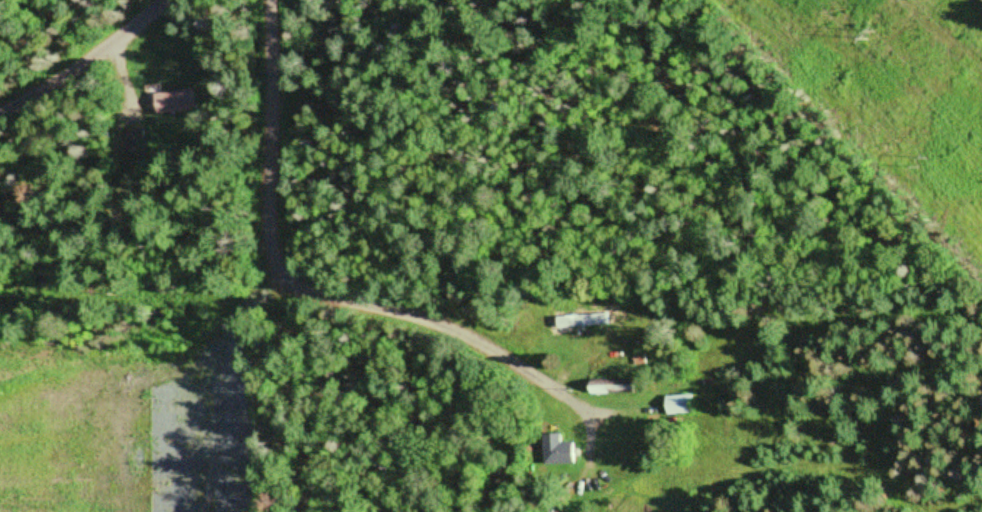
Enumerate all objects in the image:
road: (87, 57)
building: (167, 100)
road: (316, 281)
building: (598, 388)
building: (676, 404)
building: (557, 450)

